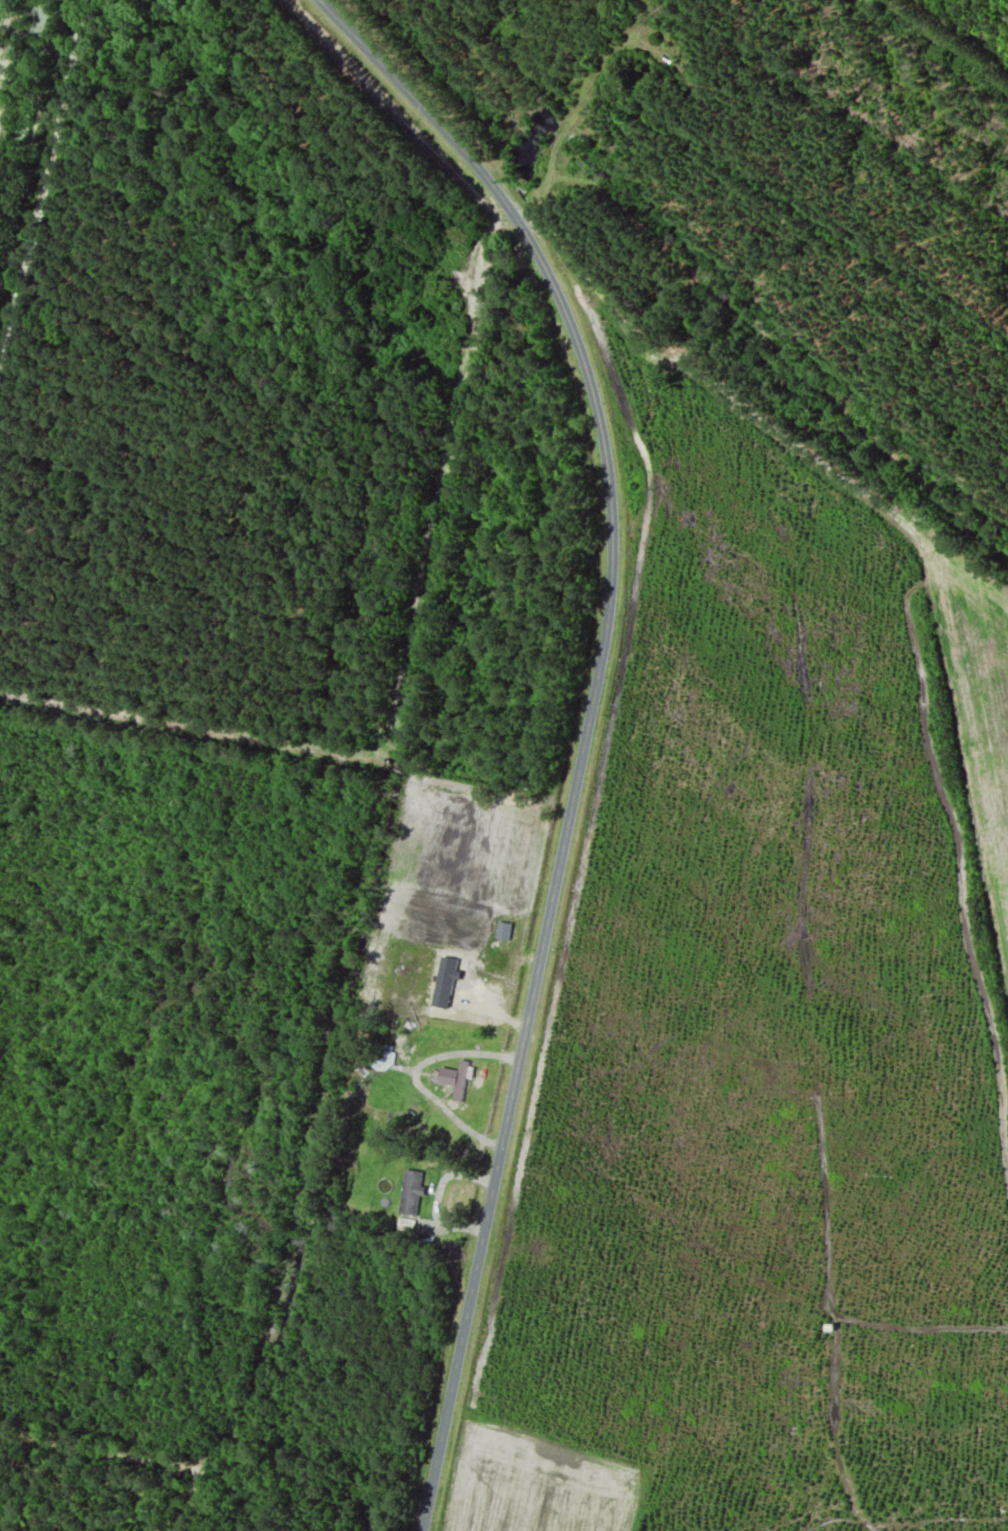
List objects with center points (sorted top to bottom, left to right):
road: (487, 144)
dam: (515, 156)
road: (529, 202)
road: (588, 725)
road: (607, 737)
road: (959, 857)
building: (504, 933)
building: (382, 1057)
building: (455, 1081)
building: (410, 1194)
road: (828, 1291)
road: (835, 1428)
road: (902, 1523)

